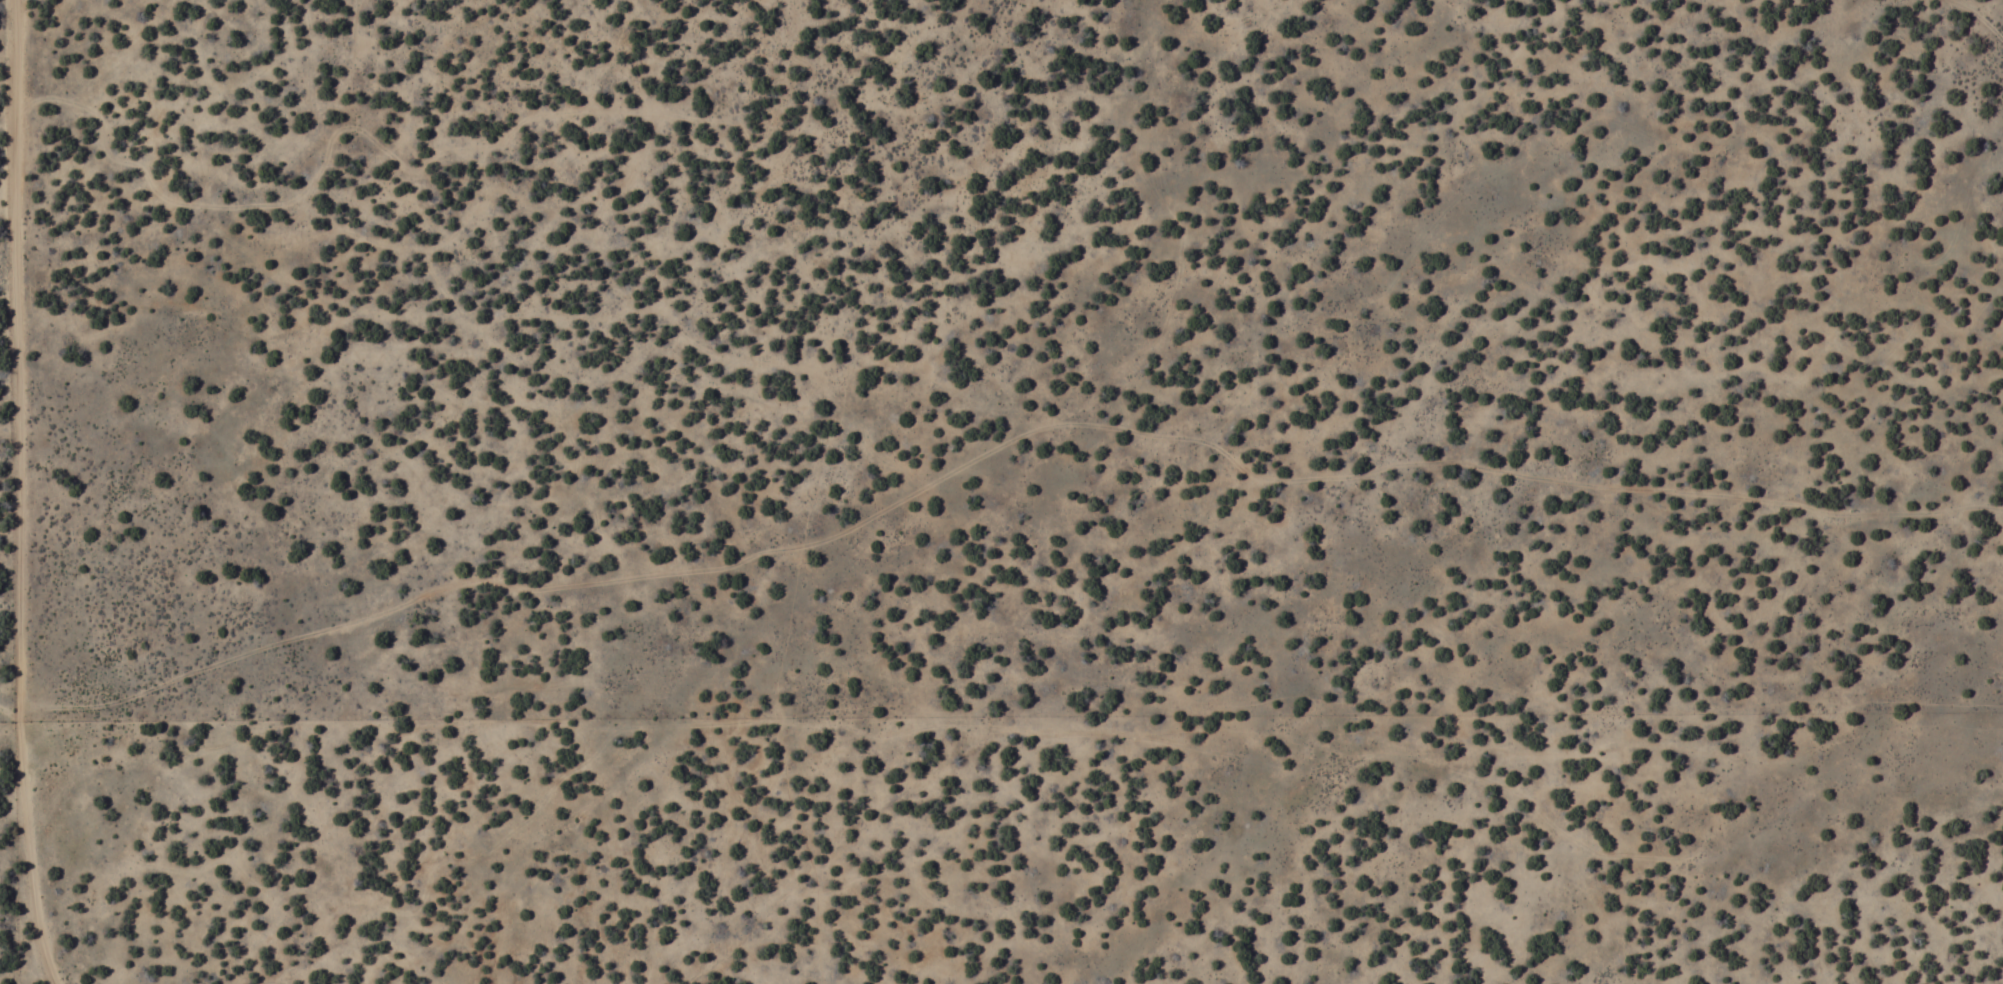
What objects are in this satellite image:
road: (1977, 23)
road: (999, 445)
road: (17, 494)

